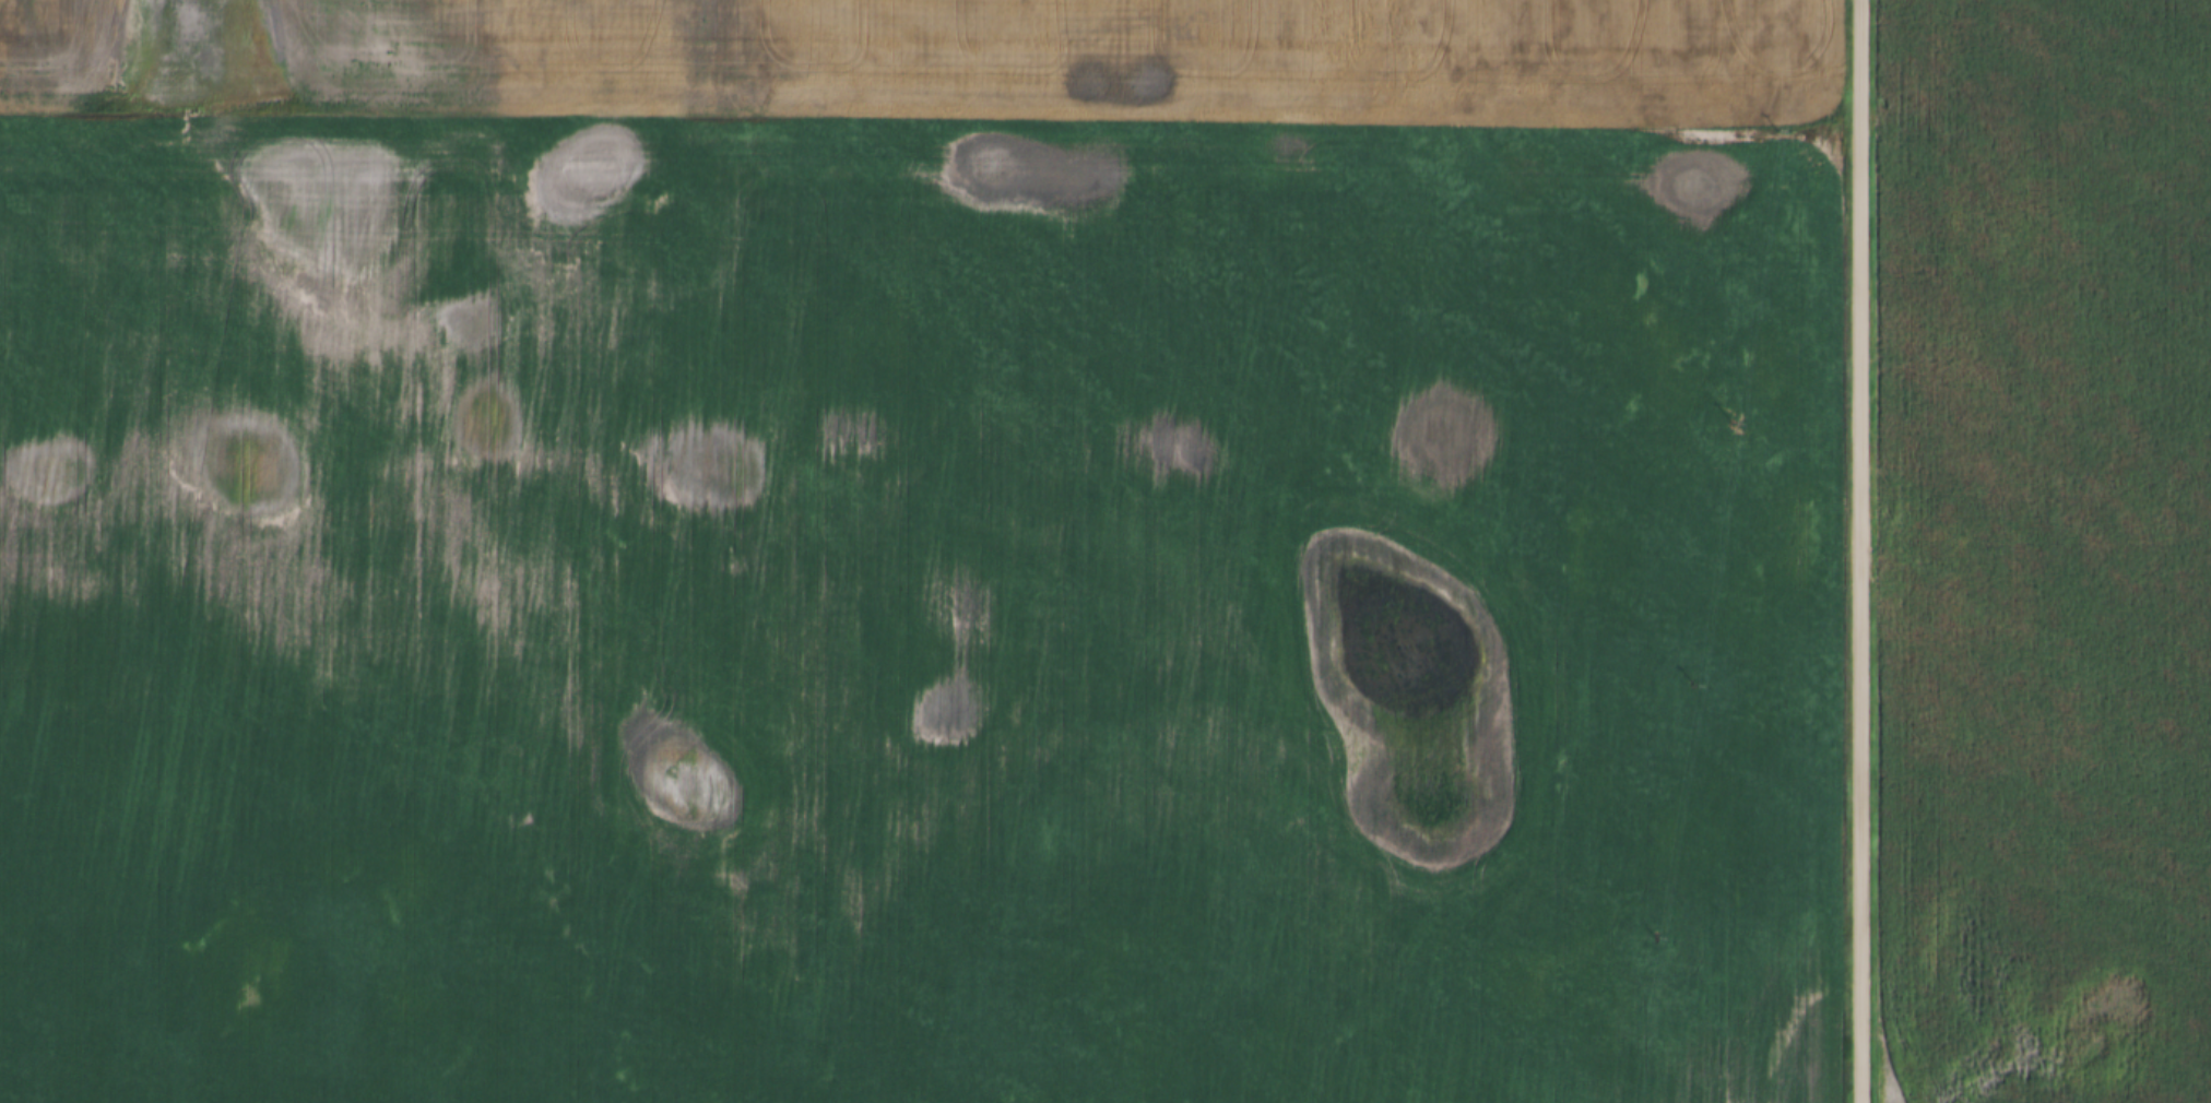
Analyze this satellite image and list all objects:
road: (1855, 551)

